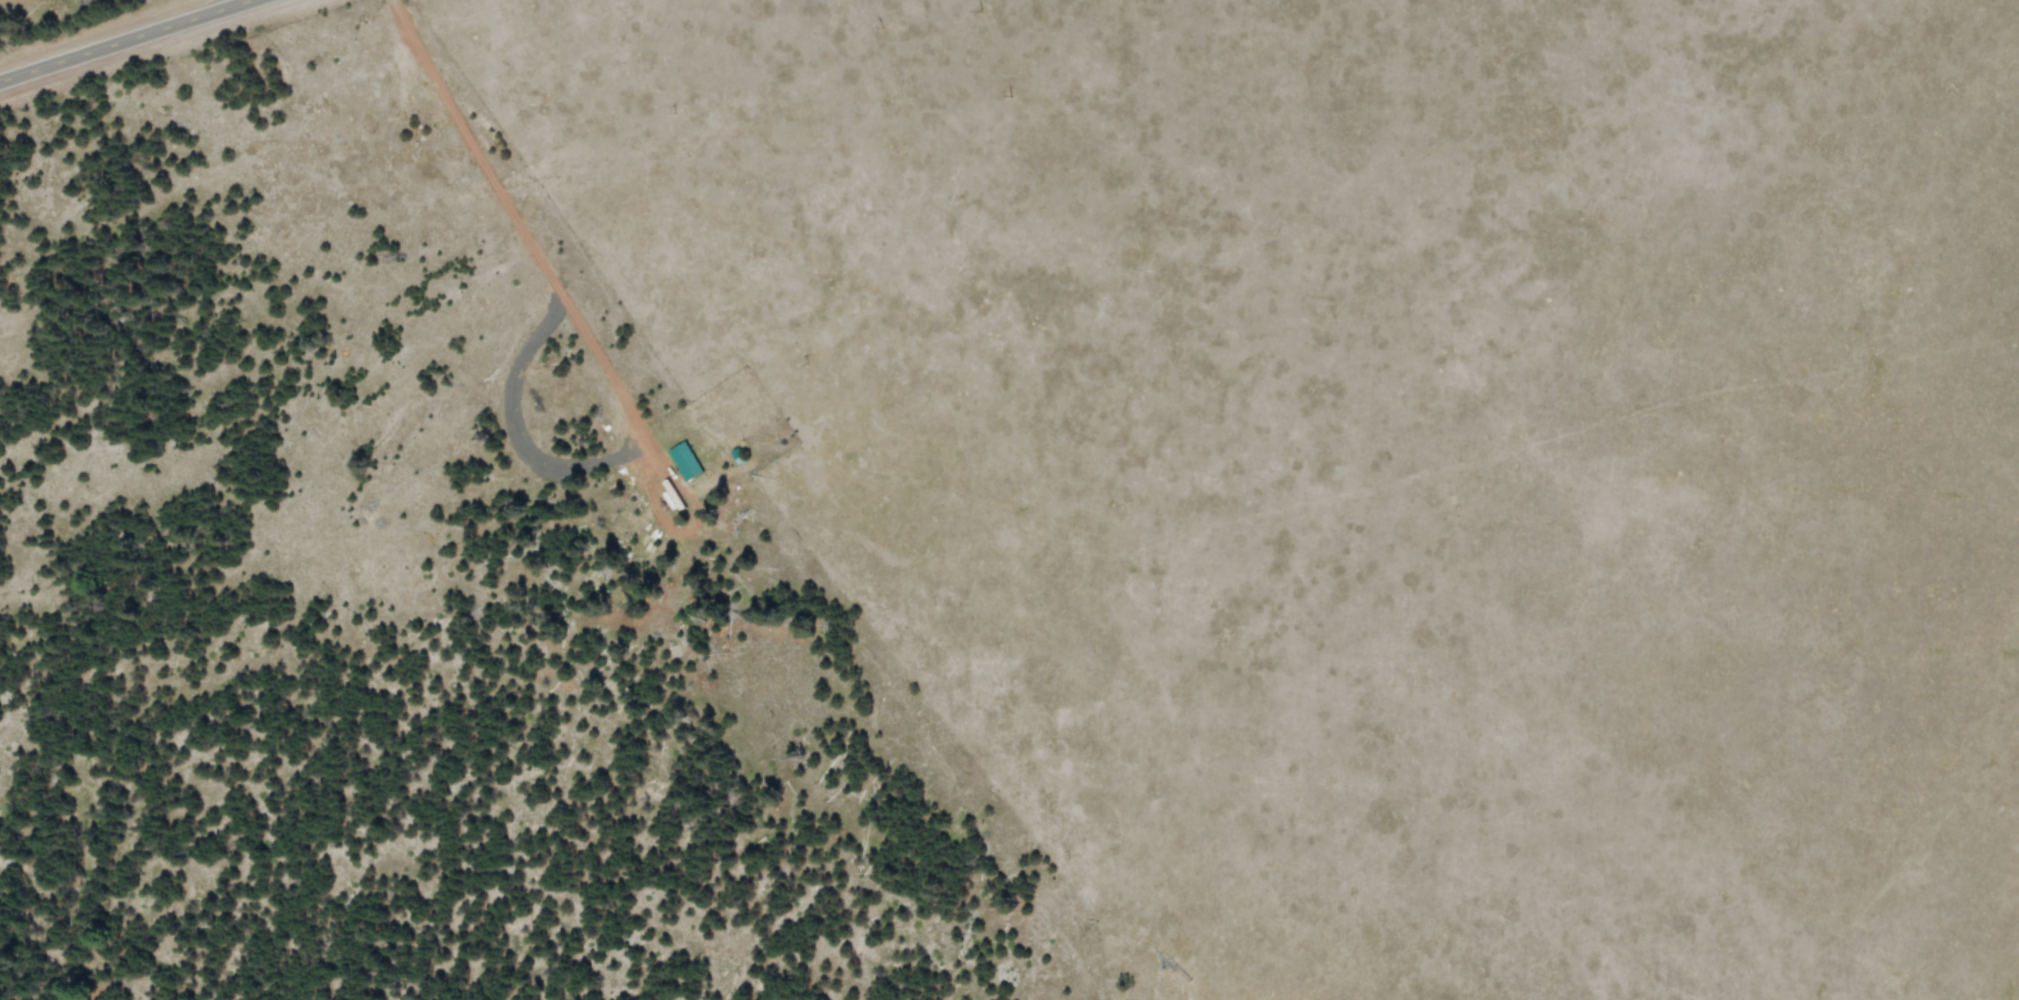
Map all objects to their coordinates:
road: (126, 39)
road: (537, 248)
building: (685, 461)

